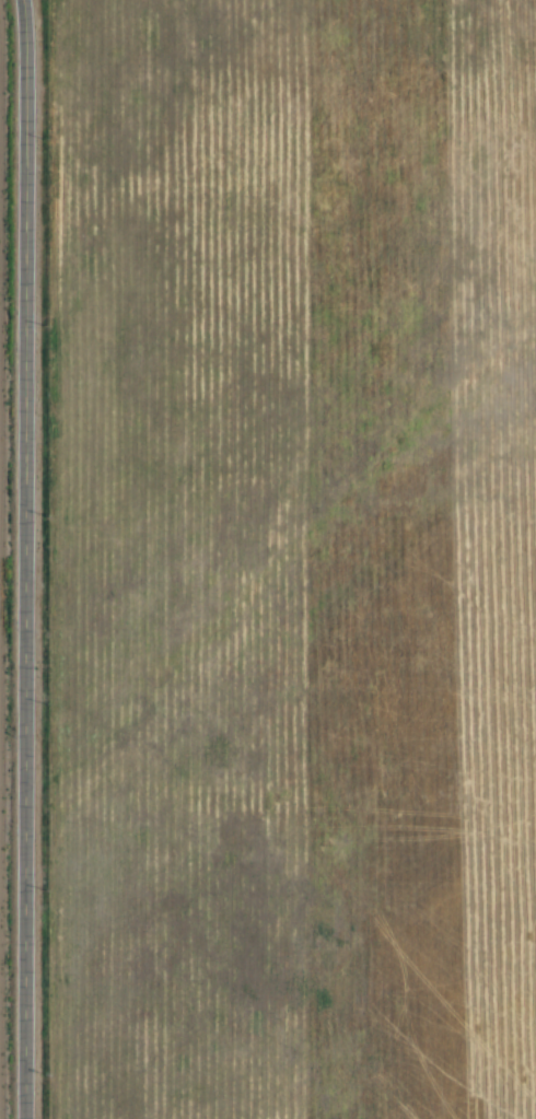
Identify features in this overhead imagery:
road: (31, 559)
crop: (299, 559)
crop: (1, 620)

